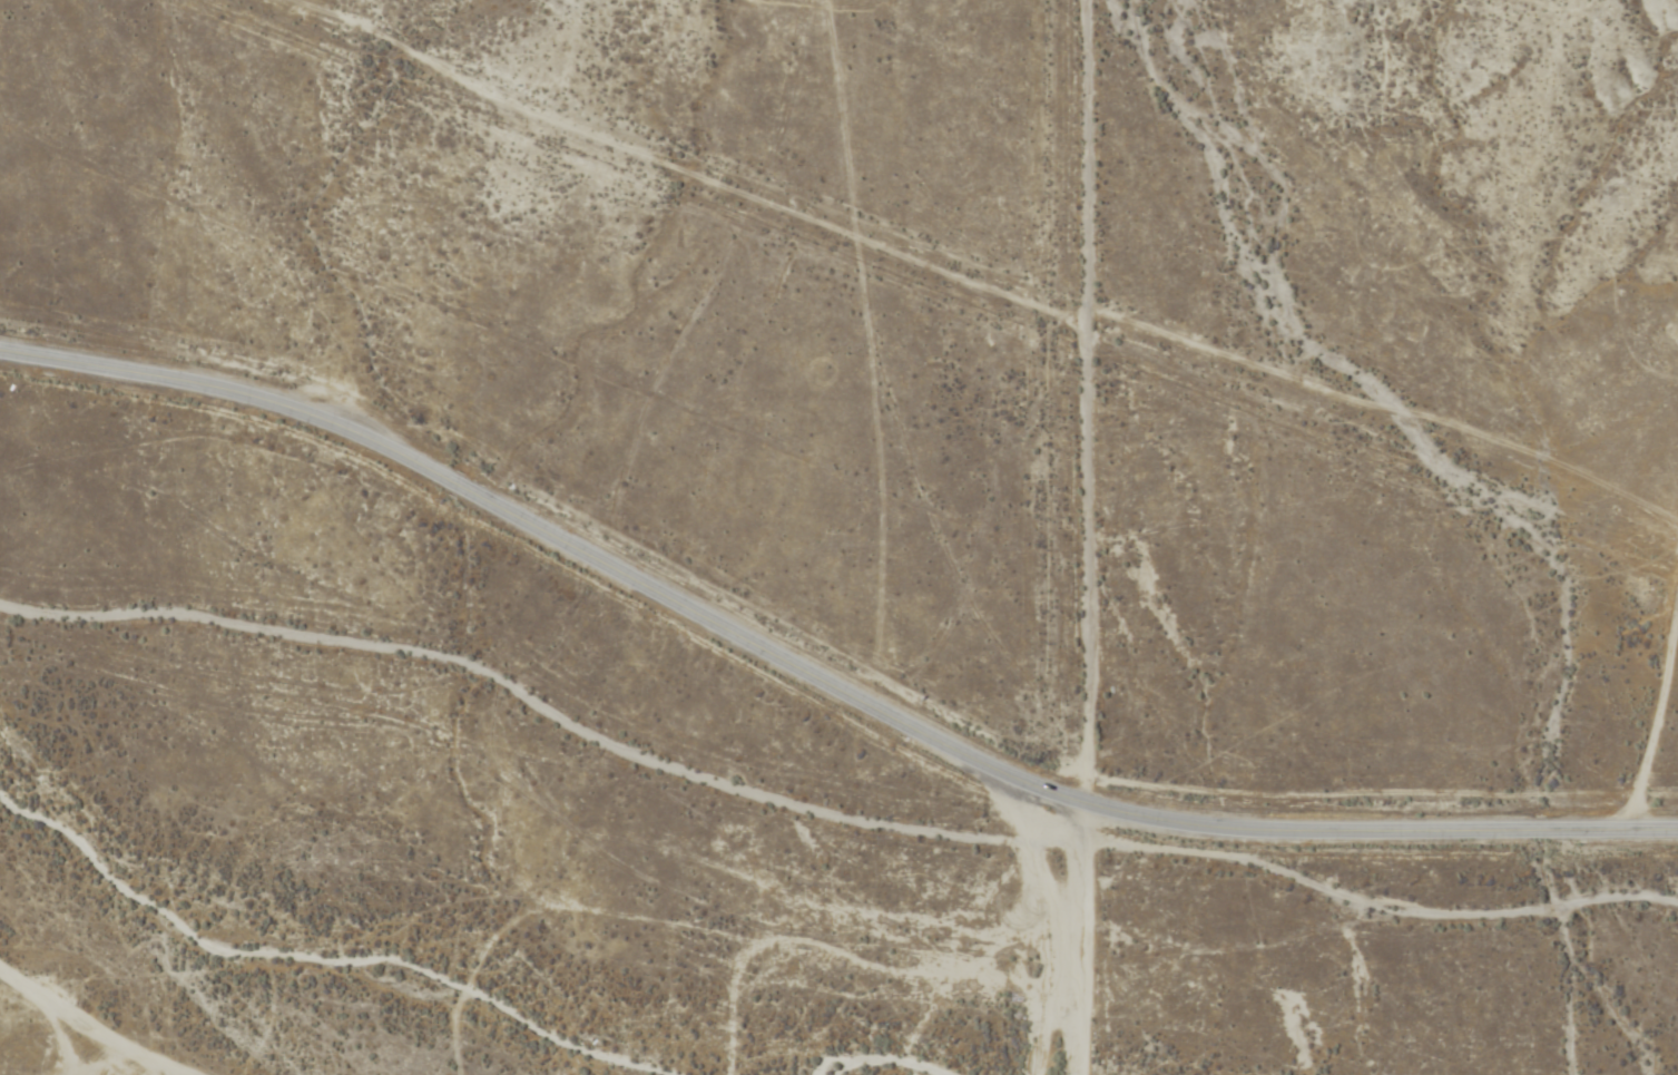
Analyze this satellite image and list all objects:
road: (820, 681)
road: (80, 1008)

